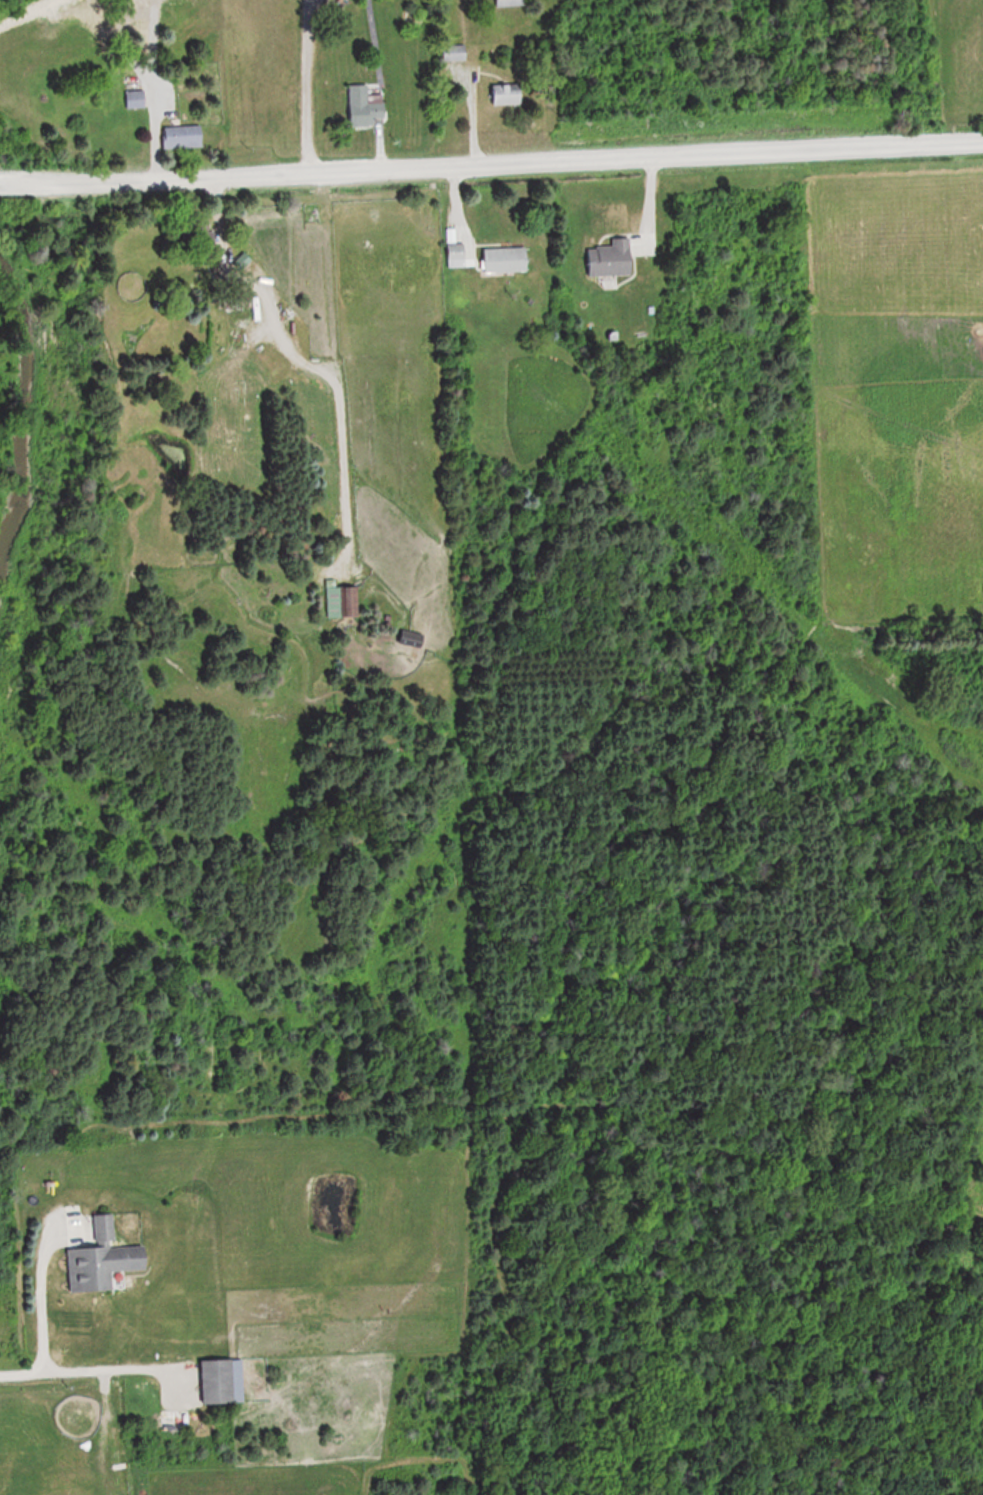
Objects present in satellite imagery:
building: (510, 3)
road: (373, 38)
building: (454, 53)
road: (306, 83)
building: (512, 93)
building: (135, 99)
building: (363, 106)
building: (183, 136)
road: (491, 159)
building: (457, 255)
building: (612, 257)
building: (506, 259)
building: (243, 261)
building: (234, 301)
building: (341, 600)
building: (106, 1267)
road: (41, 1311)
road: (102, 1371)
road: (18, 1375)
building: (218, 1382)

